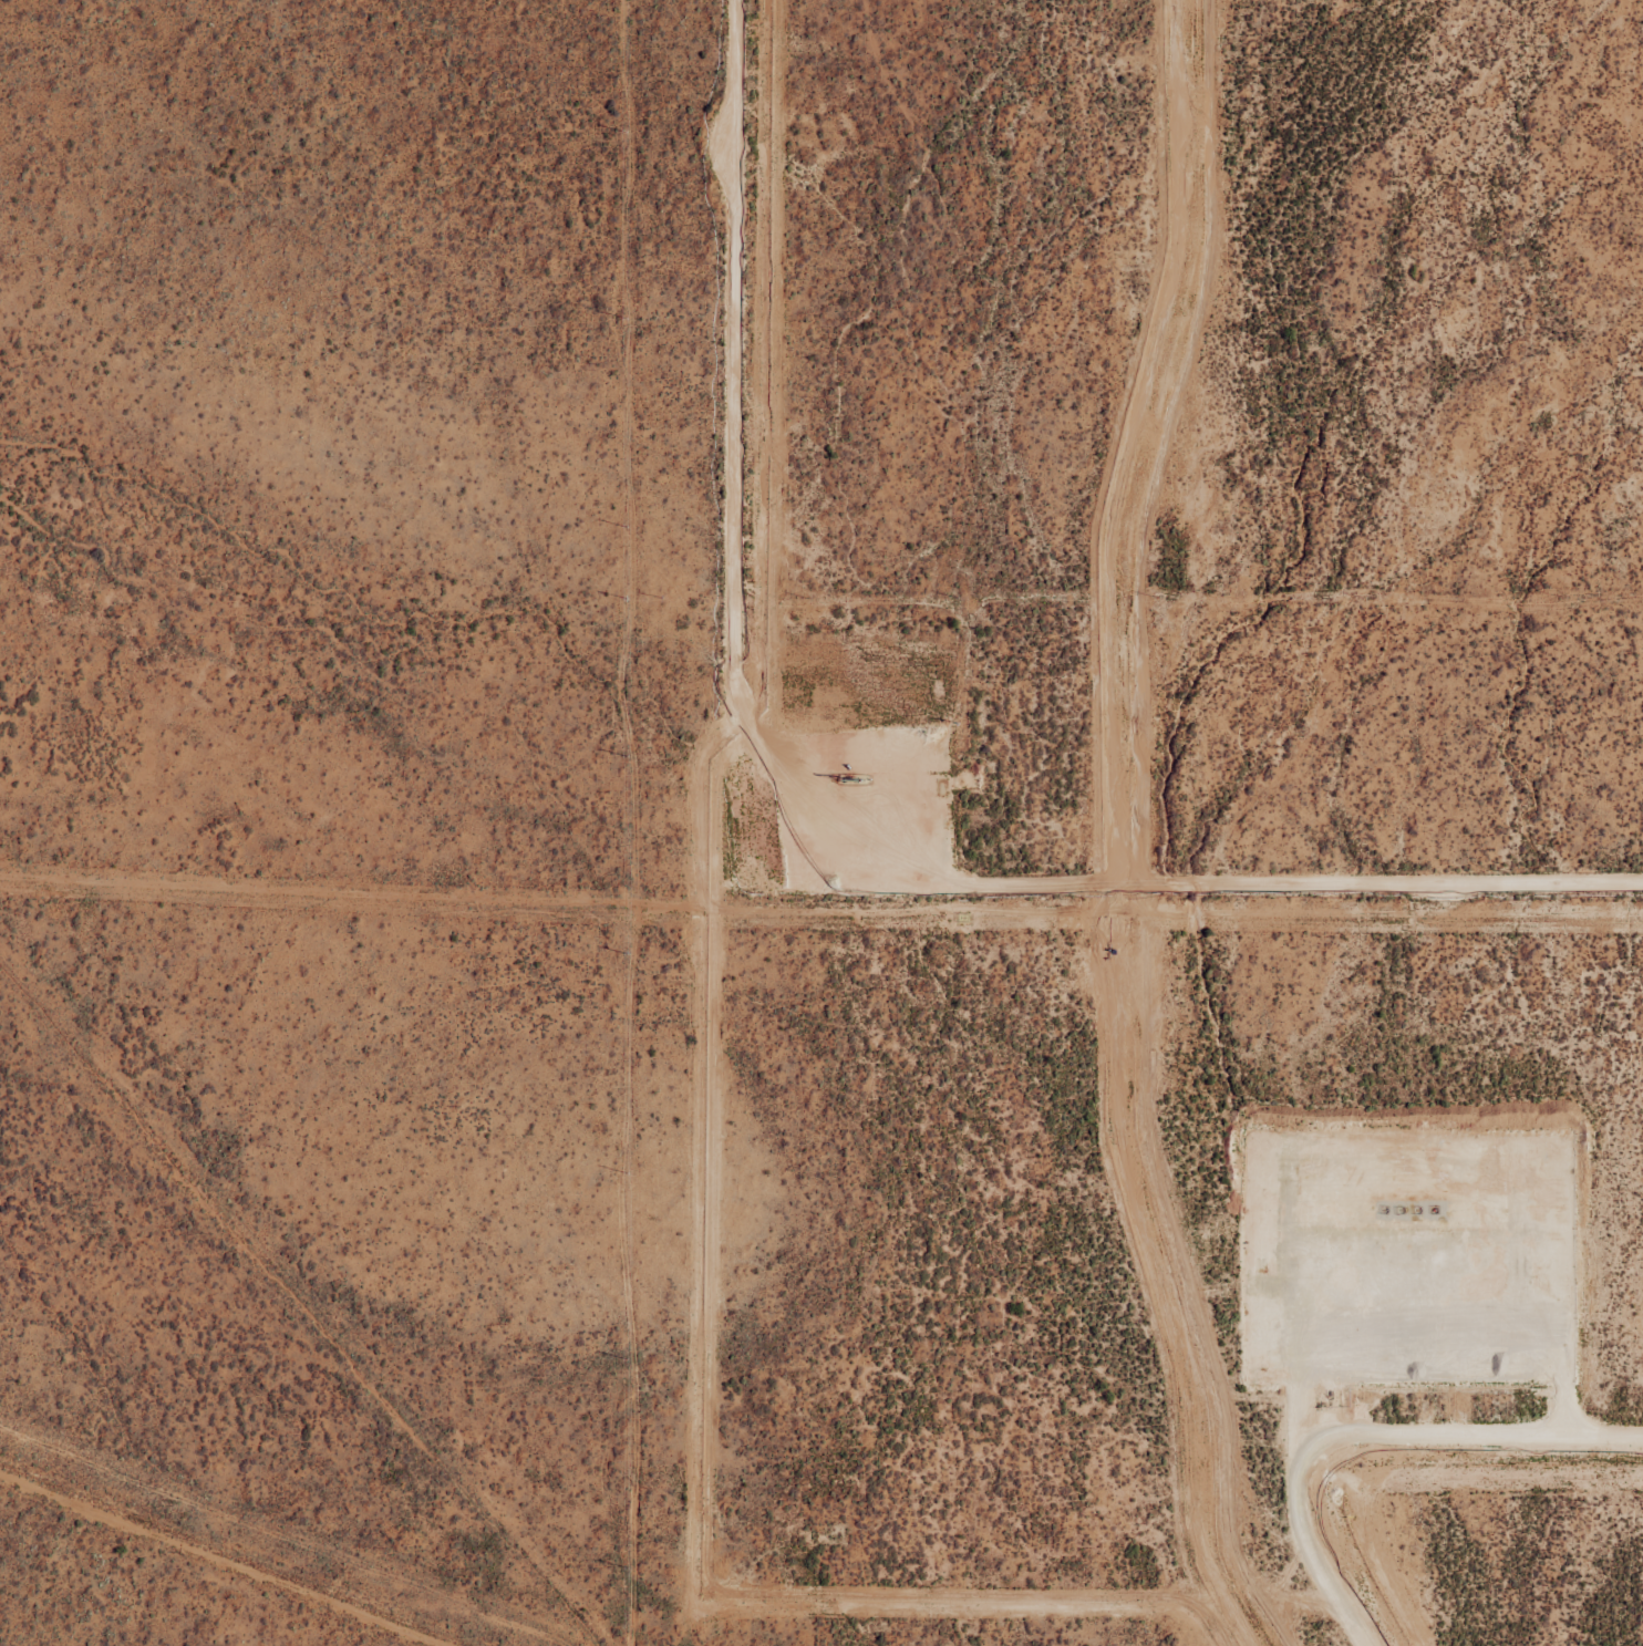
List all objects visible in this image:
petroleum well: (846, 775)
road: (803, 846)
petroleum well: (1381, 1207)
petroleum well: (1397, 1207)
petroleum well: (1414, 1207)
petroleum well: (1432, 1207)
road: (1503, 1286)
road: (1366, 1446)

